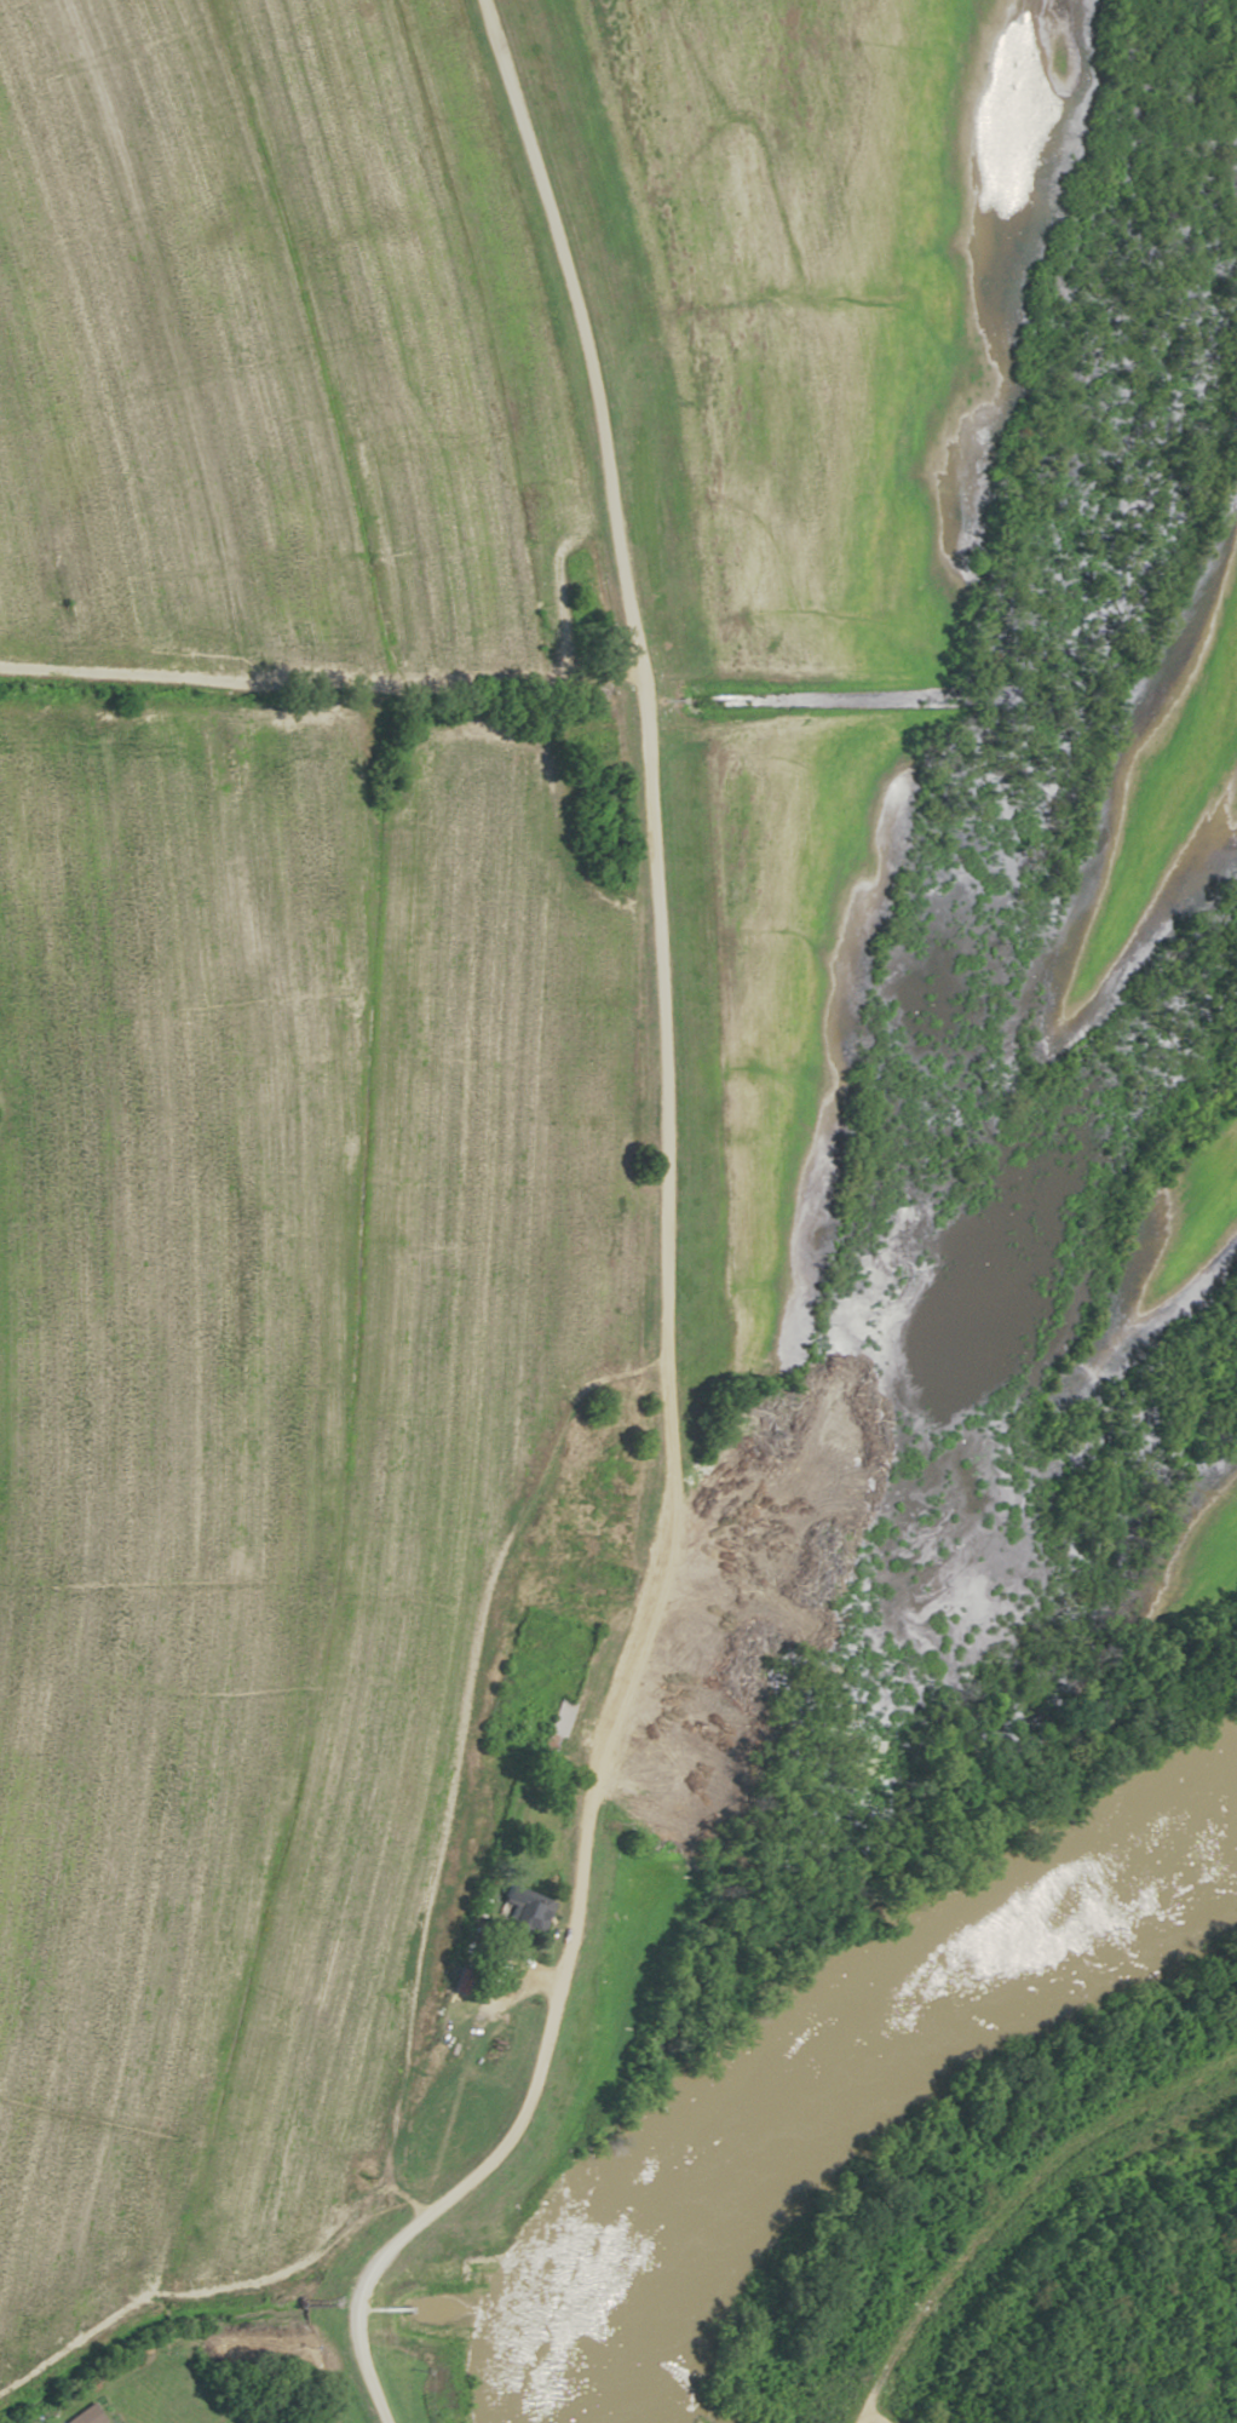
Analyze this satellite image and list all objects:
crop: (830, 293)
crop: (278, 346)
road: (312, 678)
crop: (1158, 806)
crop: (793, 978)
road: (658, 1242)
crop: (1184, 1244)
crop: (267, 1437)
crop: (1190, 1558)
building: (554, 1717)
road: (456, 1765)
building: (519, 1912)
river: (828, 2020)
road: (202, 2291)
building: (84, 2416)
road: (864, 2421)

